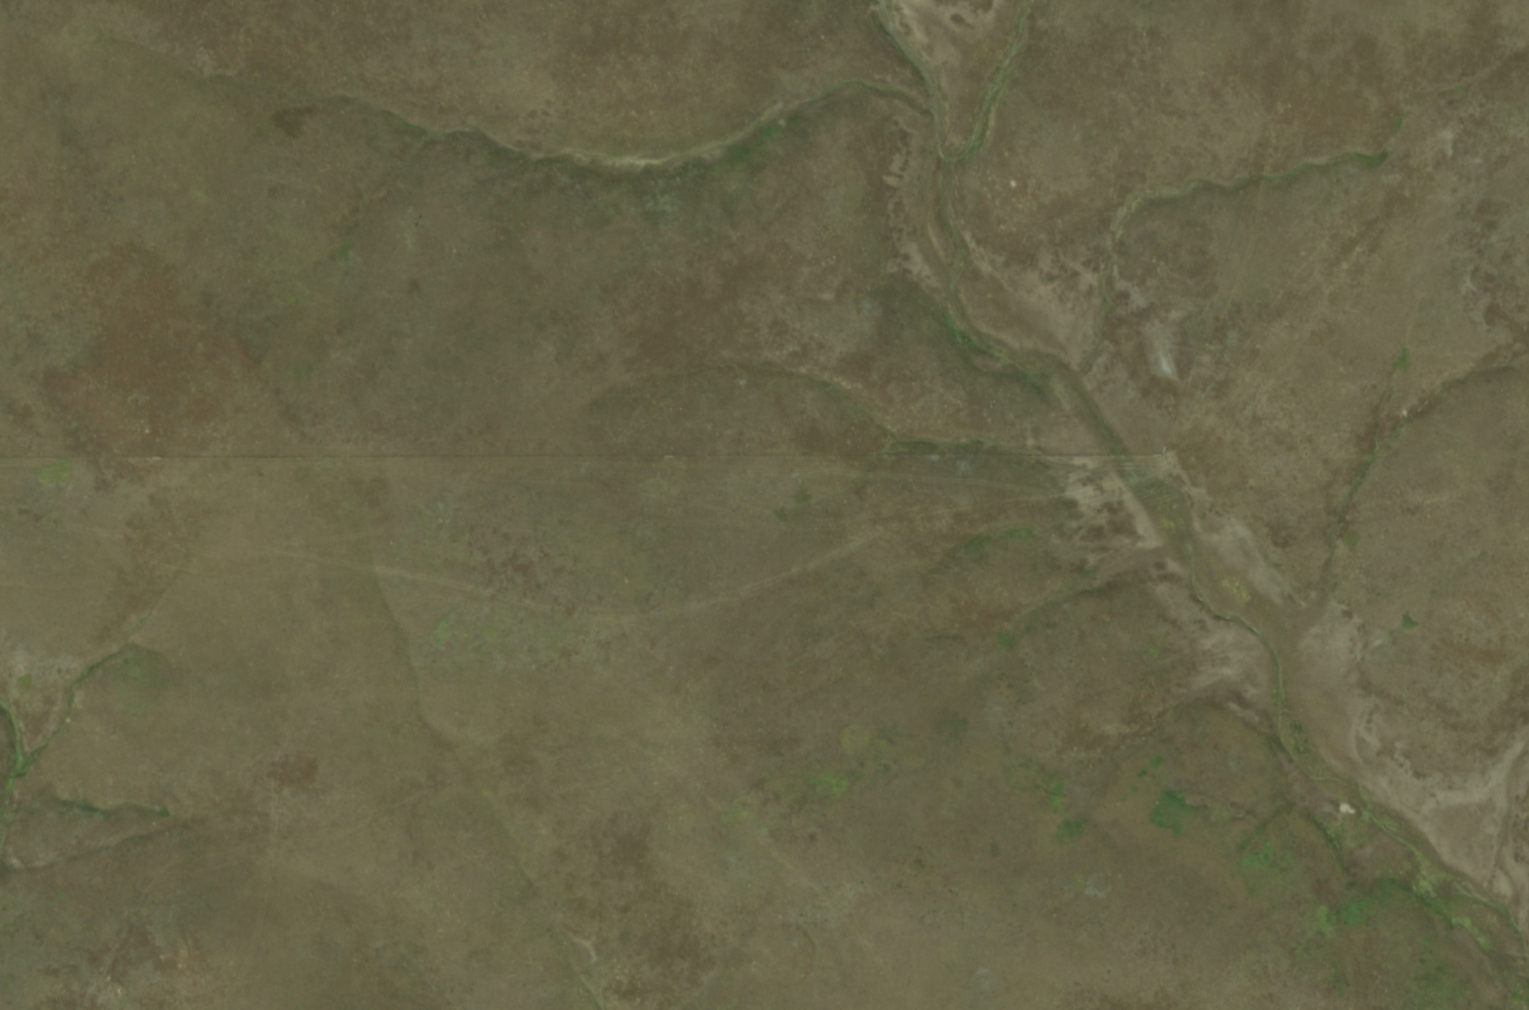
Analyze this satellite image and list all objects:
road: (1370, 690)

